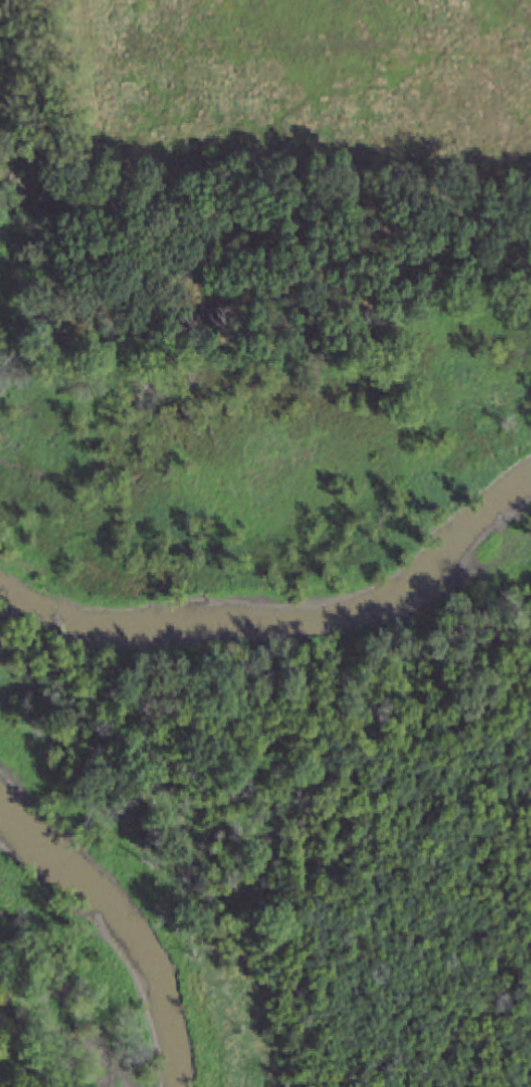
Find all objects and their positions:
river: (270, 623)
river: (117, 925)

